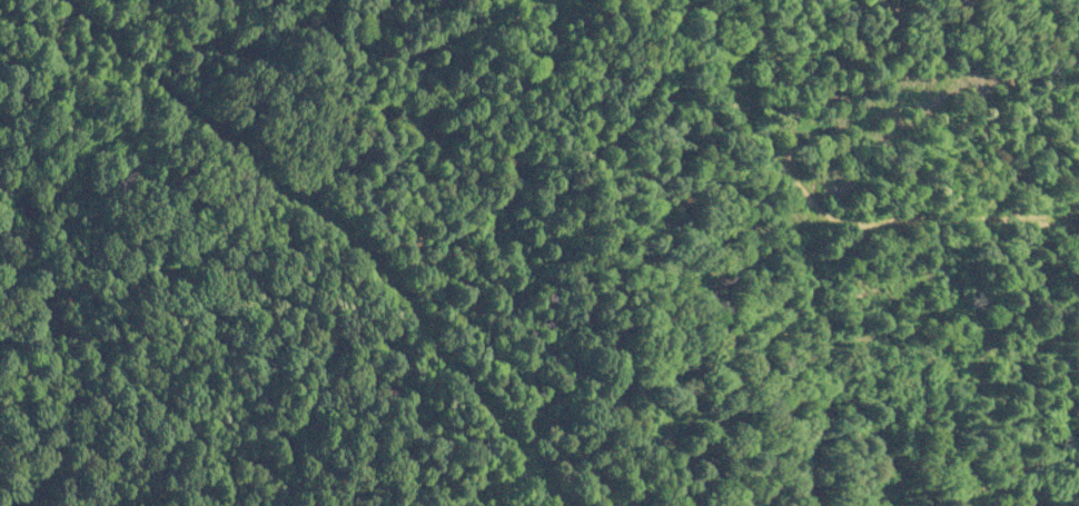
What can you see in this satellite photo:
road: (749, 143)
road: (1055, 217)
road: (828, 249)
road: (613, 353)
road: (465, 368)

